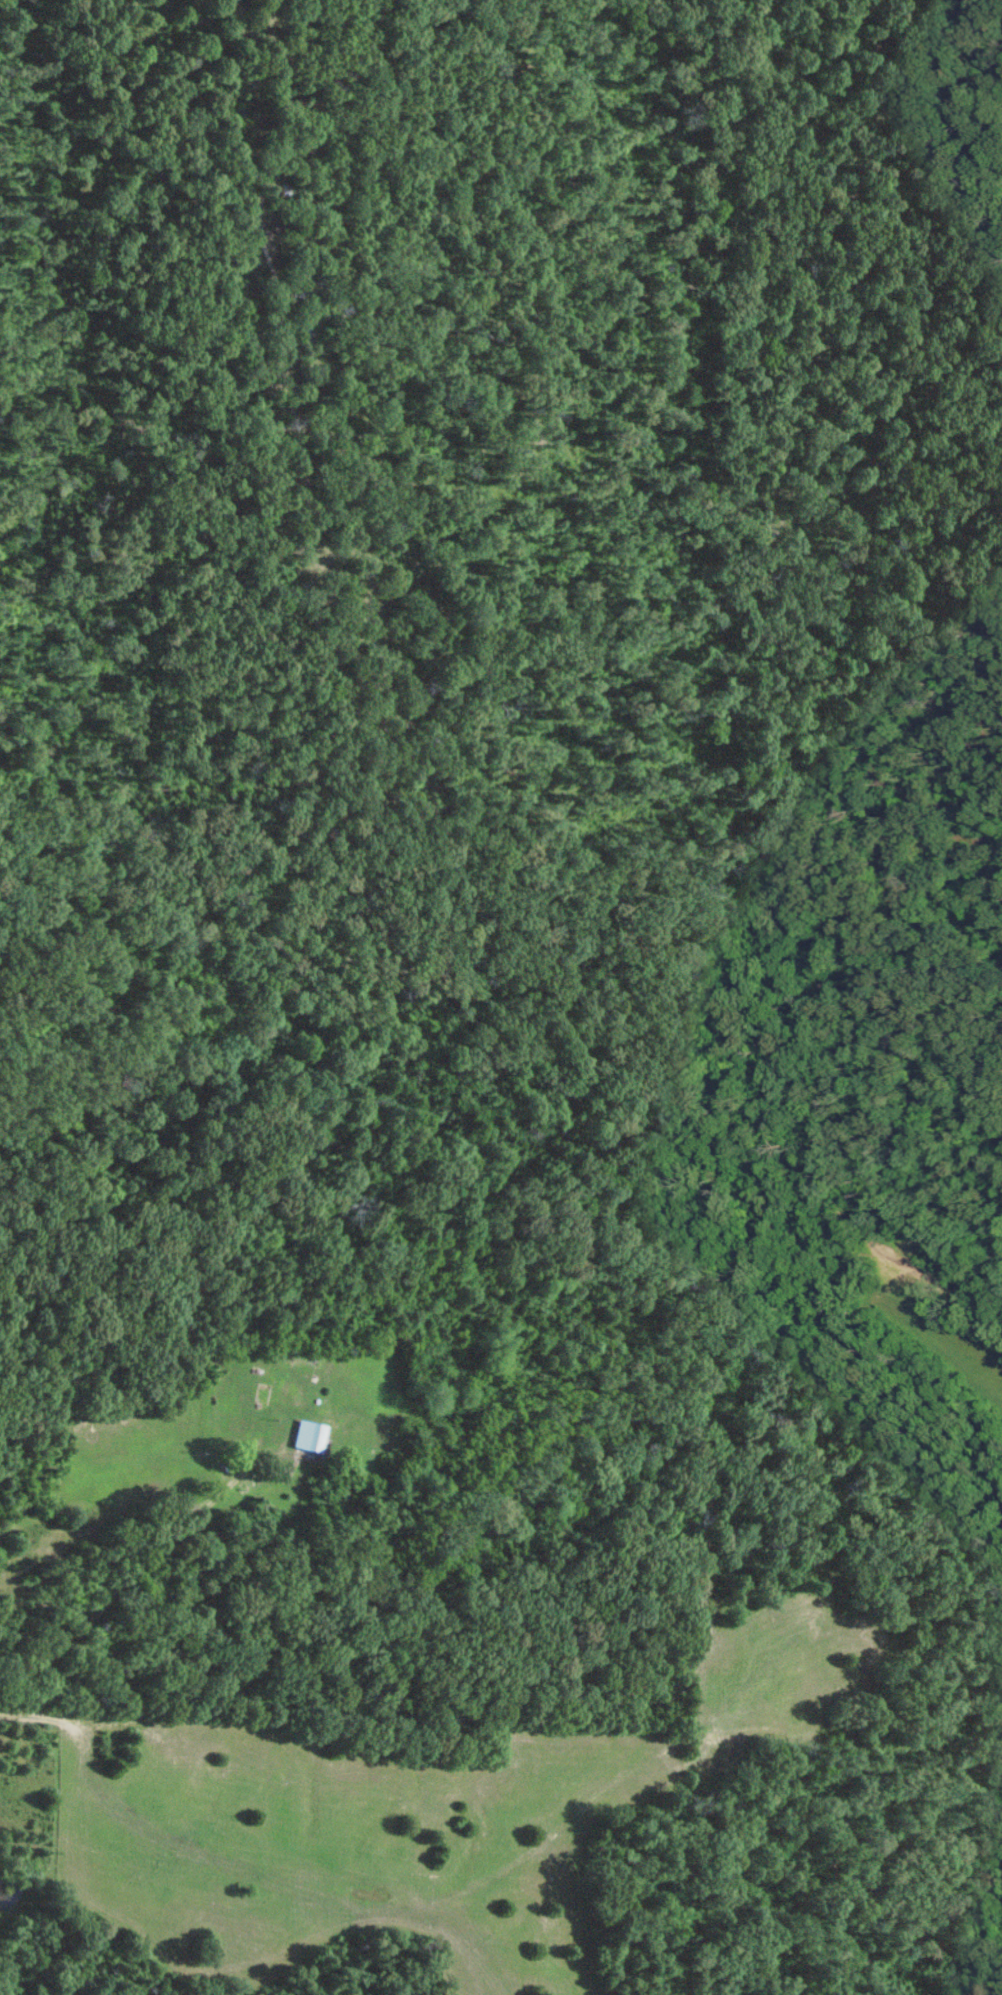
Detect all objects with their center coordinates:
building: (310, 1435)
road: (152, 1555)

